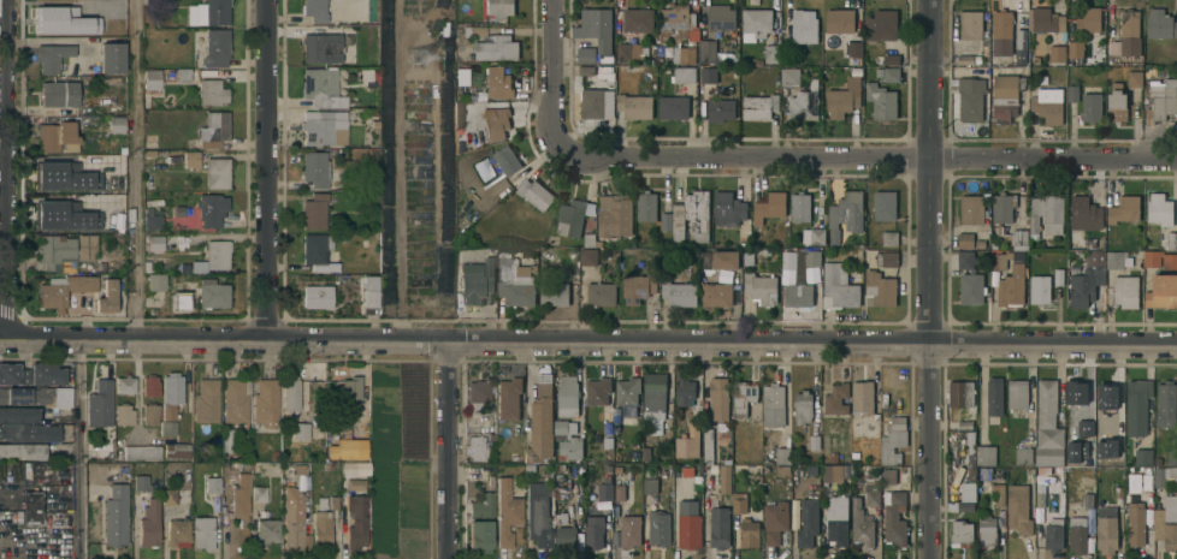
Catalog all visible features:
building: (152, 1)
building: (498, 7)
building: (314, 10)
building: (212, 11)
building: (51, 16)
building: (1089, 18)
building: (638, 19)
building: (1045, 19)
building: (839, 20)
building: (165, 22)
building: (673, 22)
building: (755, 23)
building: (1160, 23)
building: (882, 24)
building: (971, 24)
building: (804, 25)
building: (597, 26)
building: (712, 26)
building: (118, 29)
building: (477, 31)
building: (1002, 32)
building: (1126, 35)
road: (48, 42)
building: (1021, 46)
building: (215, 47)
building: (321, 47)
building: (496, 48)
building: (853, 48)
building: (1075, 48)
building: (628, 50)
building: (661, 50)
building: (770, 53)
building: (1057, 53)
building: (585, 54)
building: (52, 55)
building: (684, 55)
building: (112, 57)
power tower: (420, 57)
building: (877, 59)
building: (892, 59)
building: (965, 59)
building: (786, 60)
building: (652, 61)
building: (585, 70)
building: (1148, 72)
building: (170, 73)
building: (182, 73)
building: (366, 75)
building: (684, 75)
building: (708, 75)
building: (891, 75)
building: (460, 76)
road: (554, 76)
building: (789, 76)
building: (152, 78)
building: (1135, 78)
building: (498, 82)
building: (320, 85)
building: (211, 90)
building: (59, 93)
building: (1072, 93)
building: (1009, 96)
building: (842, 97)
building: (970, 97)
building: (804, 101)
building: (881, 101)
building: (1161, 101)
building: (592, 102)
building: (1117, 102)
building: (1047, 105)
building: (634, 106)
building: (673, 106)
building: (759, 106)
building: (1090, 107)
building: (720, 109)
building: (459, 112)
building: (116, 123)
building: (497, 123)
building: (324, 126)
building: (214, 129)
building: (57, 136)
building: (122, 149)
building: (149, 153)
road: (864, 154)
building: (191, 159)
building: (507, 159)
building: (59, 167)
building: (102, 168)
building: (315, 168)
road: (2, 170)
road: (136, 170)
road: (268, 171)
building: (217, 172)
building: (486, 172)
building: (83, 184)
building: (534, 194)
building: (885, 204)
building: (646, 206)
building: (1002, 206)
building: (768, 207)
building: (800, 207)
building: (211, 208)
building: (729, 209)
building: (971, 209)
building: (1123, 209)
building: (1159, 209)
building: (314, 210)
building: (58, 212)
building: (176, 212)
building: (1084, 213)
building: (614, 214)
building: (845, 214)
building: (1046, 214)
building: (573, 216)
building: (691, 216)
building: (152, 220)
building: (120, 221)
building: (666, 221)
building: (1001, 230)
building: (814, 234)
building: (1019, 237)
building: (889, 238)
building: (590, 239)
building: (965, 239)
building: (1171, 239)
building: (155, 242)
building: (171, 243)
building: (980, 244)
building: (87, 245)
building: (55, 250)
building: (317, 251)
building: (212, 256)
building: (747, 256)
building: (587, 257)
building: (811, 257)
building: (720, 258)
building: (887, 258)
building: (966, 258)
building: (1117, 258)
building: (1159, 258)
building: (999, 260)
building: (799, 274)
building: (1058, 276)
building: (477, 279)
road: (929, 279)
building: (1087, 279)
building: (156, 280)
building: (515, 281)
building: (638, 286)
building: (838, 286)
building: (1012, 286)
building: (761, 287)
building: (64, 289)
building: (880, 289)
building: (971, 289)
building: (1040, 290)
building: (371, 291)
building: (1125, 291)
building: (1161, 291)
building: (679, 292)
building: (212, 293)
building: (554, 293)
building: (601, 293)
building: (716, 295)
building: (798, 295)
building: (106, 296)
building: (317, 296)
building: (153, 310)
road: (588, 345)
building: (31, 373)
building: (124, 383)
building: (149, 385)
building: (627, 389)
building: (684, 389)
building: (597, 391)
building: (653, 392)
building: (171, 393)
building: (291, 393)
building: (960, 393)
building: (1017, 393)
building: (1075, 393)
building: (1105, 393)
building: (37, 394)
building: (349, 396)
building: (478, 396)
building: (568, 396)
building: (744, 396)
building: (994, 396)
building: (509, 397)
building: (862, 397)
building: (718, 398)
building: (236, 399)
building: (836, 399)
building: (206, 400)
building: (266, 400)
building: (100, 403)
building: (773, 404)
building: (1165, 404)
building: (1136, 405)
building: (803, 406)
building: (150, 412)
building: (18, 414)
building: (123, 414)
building: (329, 424)
building: (540, 424)
building: (965, 424)
building: (657, 426)
building: (1047, 426)
building: (166, 427)
building: (563, 428)
building: (607, 428)
building: (301, 430)
building: (693, 430)
building: (1071, 430)
building: (24, 432)
building: (491, 438)
building: (226, 439)
building: (814, 441)
building: (893, 441)
building: (607, 444)
building: (349, 445)
building: (708, 445)
building: (1081, 445)
building: (475, 447)
building: (570, 447)
building: (970, 448)
building: (23, 450)
road: (81, 450)
building: (176, 450)
road: (446, 451)
building: (142, 452)
building: (645, 454)
building: (782, 454)
building: (854, 454)
building: (984, 454)
building: (274, 456)
building: (632, 456)
building: (1023, 456)
building: (1171, 456)
building: (833, 457)
building: (1143, 457)
building: (530, 468)
building: (561, 468)
building: (782, 468)
building: (353, 469)
building: (811, 470)
building: (93, 471)
building: (649, 471)
building: (686, 472)
building: (833, 474)
building: (984, 474)
building: (876, 475)
building: (1164, 475)
building: (888, 476)
building: (726, 478)
building: (1146, 481)
building: (213, 483)
building: (355, 483)
building: (605, 487)
building: (650, 487)
building: (968, 487)
building: (620, 492)
building: (1118, 492)
building: (259, 493)
building: (871, 493)
building: (996, 494)
building: (241, 495)
building: (167, 498)
building: (1040, 499)
building: (1087, 500)
building: (333, 502)
building: (739, 502)
building: (31, 506)
building: (965, 506)
building: (296, 509)
building: (1018, 509)
building: (146, 512)
building: (507, 512)
building: (538, 513)
building: (116, 515)
building: (561, 517)
building: (894, 517)
building: (838, 519)
building: (775, 521)
building: (355, 522)
building: (481, 522)
building: (808, 522)
building: (1166, 522)
building: (1135, 523)
building: (688, 524)
building: (862, 524)
building: (720, 527)
building: (321, 529)
building: (657, 529)
building: (1106, 529)
building: (177, 530)
building: (267, 530)
building: (629, 530)
building: (202, 531)
building: (595, 531)
building: (987, 531)
building: (749, 533)
building: (1077, 533)
building: (960, 534)
building: (1053, 534)
building: (566, 537)

